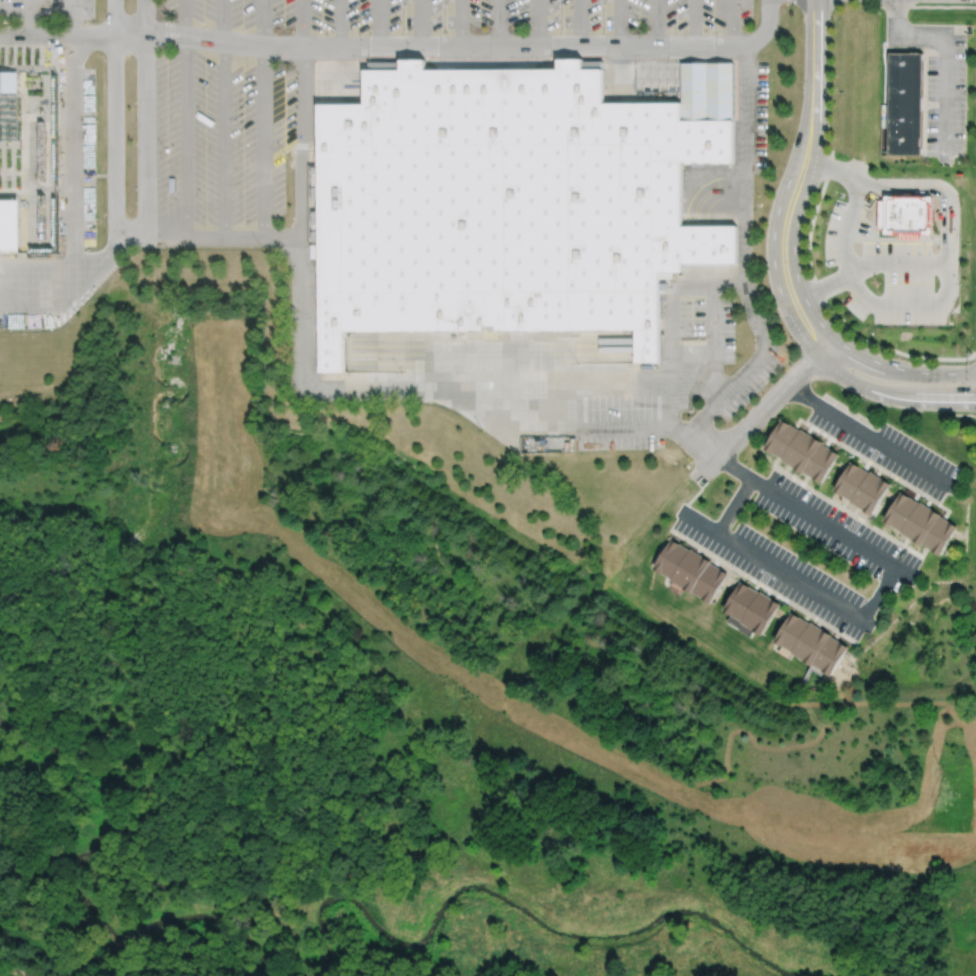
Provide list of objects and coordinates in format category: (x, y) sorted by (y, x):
parking lot: (46, 10)
road: (29, 17)
road: (72, 17)
road: (658, 22)
road: (694, 22)
road: (732, 22)
road: (378, 23)
road: (422, 23)
road: (459, 23)
road: (497, 23)
road: (538, 23)
road: (579, 23)
road: (619, 23)
road: (301, 24)
road: (337, 24)
road: (56, 34)
road: (816, 43)
road: (458, 47)
road: (947, 55)
building: (383, 65)
building: (11, 83)
street lamp: (801, 90)
building: (706, 91)
parking lot: (946, 94)
street lamp: (769, 99)
building: (905, 104)
road: (262, 119)
road: (114, 120)
road: (144, 120)
road: (183, 120)
road: (222, 120)
parking lot: (229, 139)
road: (71, 156)
road: (838, 169)
street lamp: (908, 176)
road: (943, 186)
street lamp: (755, 191)
building: (504, 205)
road: (797, 216)
building: (906, 216)
road: (298, 220)
road: (944, 221)
street lamp: (824, 222)
road: (775, 223)
building: (10, 227)
street lamp: (960, 236)
road: (844, 251)
road: (743, 257)
parking lot: (885, 273)
road: (74, 275)
street lamp: (879, 281)
road: (729, 282)
street lamp: (959, 283)
road: (946, 286)
road: (673, 315)
street lamp: (697, 337)
street lamp: (791, 339)
street lamp: (784, 368)
road: (901, 368)
parking lot: (668, 380)
road: (573, 383)
road: (366, 384)
road: (891, 396)
street lamp: (864, 399)
road: (765, 409)
street lamp: (809, 410)
street lamp: (483, 429)
road: (810, 429)
street lamp: (900, 429)
building: (781, 437)
road: (870, 438)
road: (828, 441)
parking lot: (887, 448)
building: (801, 449)
street lamp: (843, 452)
street lamp: (943, 455)
street lamp: (687, 457)
building: (821, 461)
road: (867, 465)
road: (874, 465)
street lamp: (749, 466)
road: (786, 468)
road: (879, 472)
road: (805, 479)
building: (850, 480)
street lamp: (894, 483)
building: (870, 492)
road: (917, 495)
road: (928, 502)
road: (844, 503)
road: (846, 510)
road: (855, 510)
building: (901, 510)
road: (873, 514)
street lamp: (714, 518)
road: (698, 521)
building: (921, 522)
building: (940, 534)
road: (905, 541)
road: (698, 550)
parking lot: (804, 550)
building: (670, 557)
road: (717, 562)
building: (690, 570)
street lamp: (735, 573)
building: (709, 582)
road: (756, 586)
road: (763, 586)
road: (767, 592)
building: (740, 600)
street lamp: (787, 604)
road: (873, 604)
building: (760, 612)
road: (806, 617)
road: (818, 623)
building: (791, 631)
road: (837, 635)
building: (811, 643)
building: (830, 655)
road: (470, 696)

